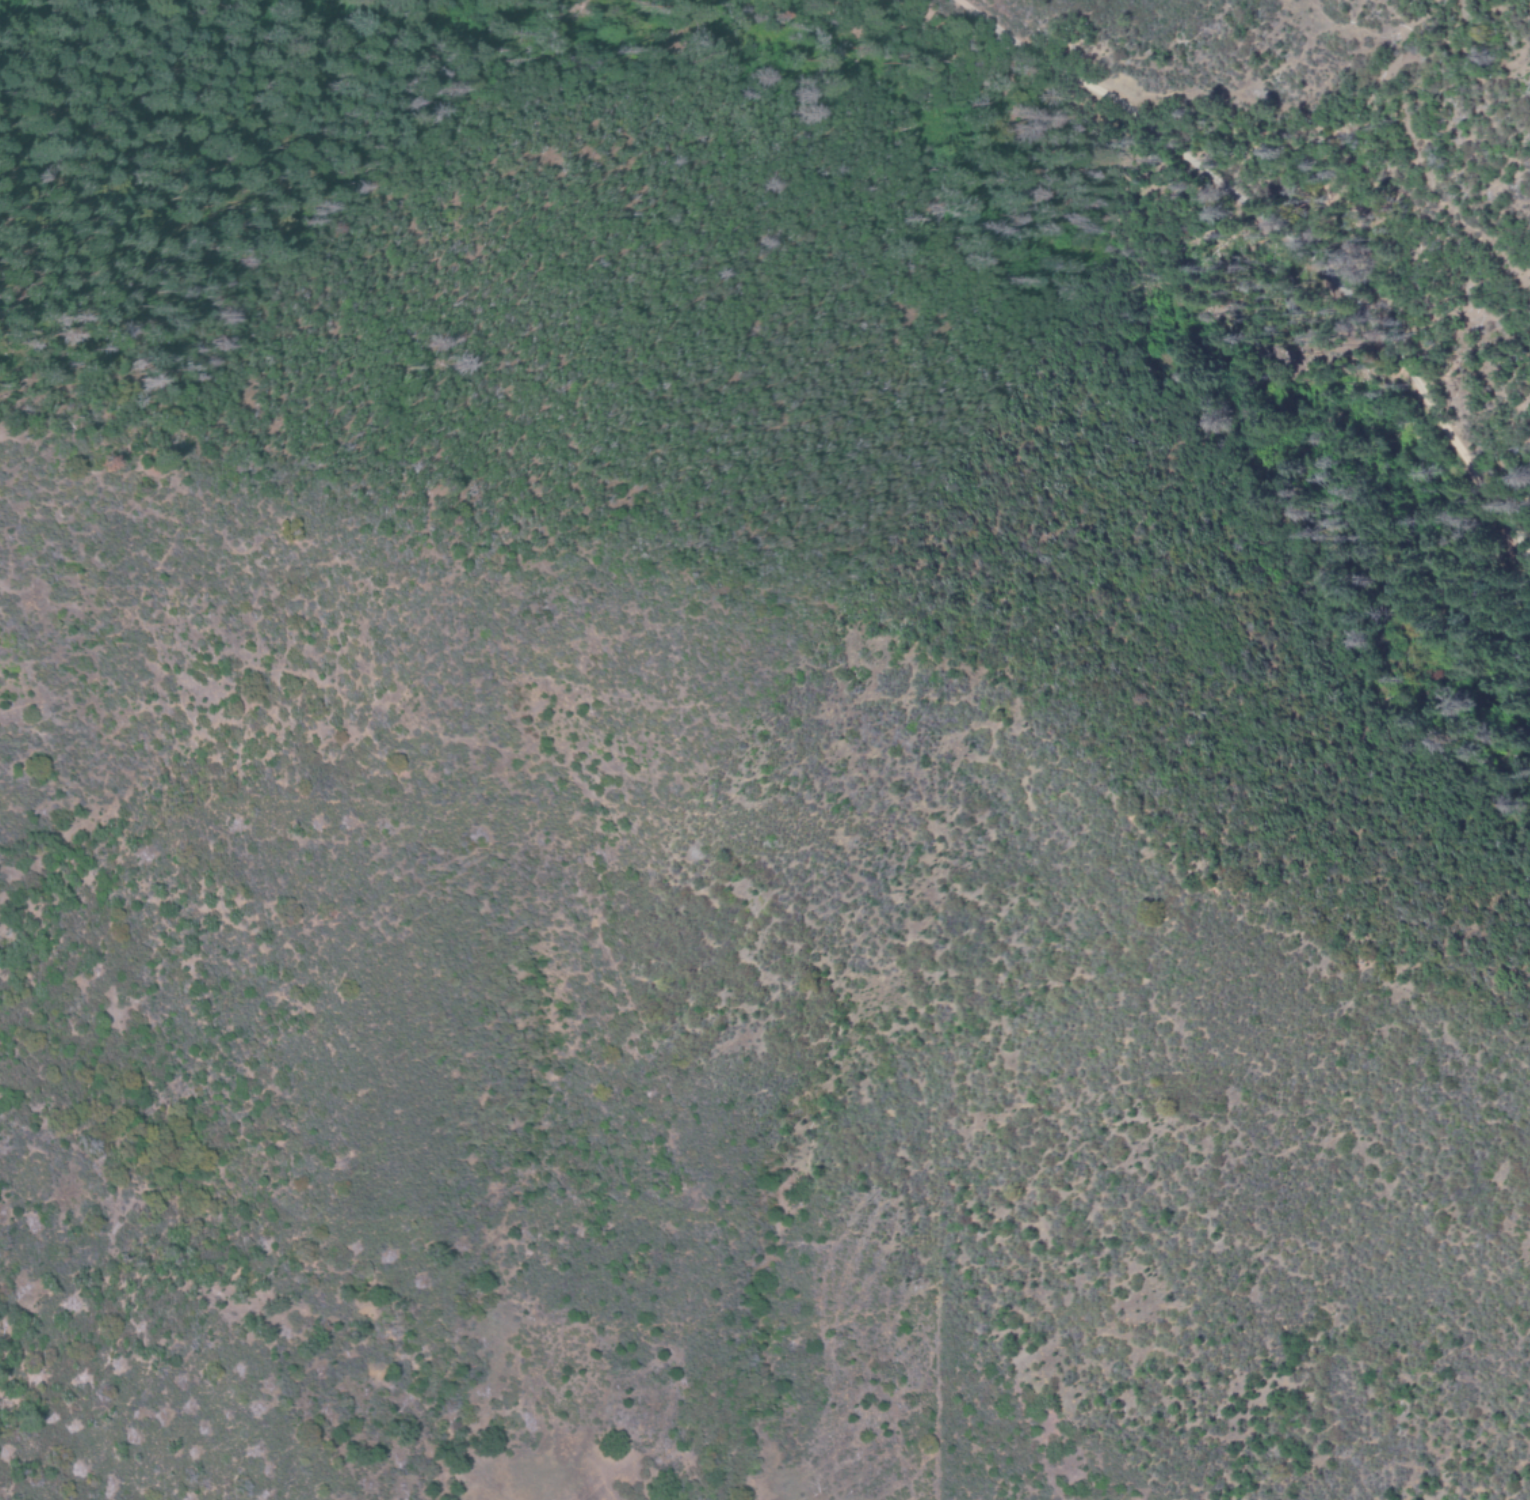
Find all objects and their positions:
road: (1286, 230)

